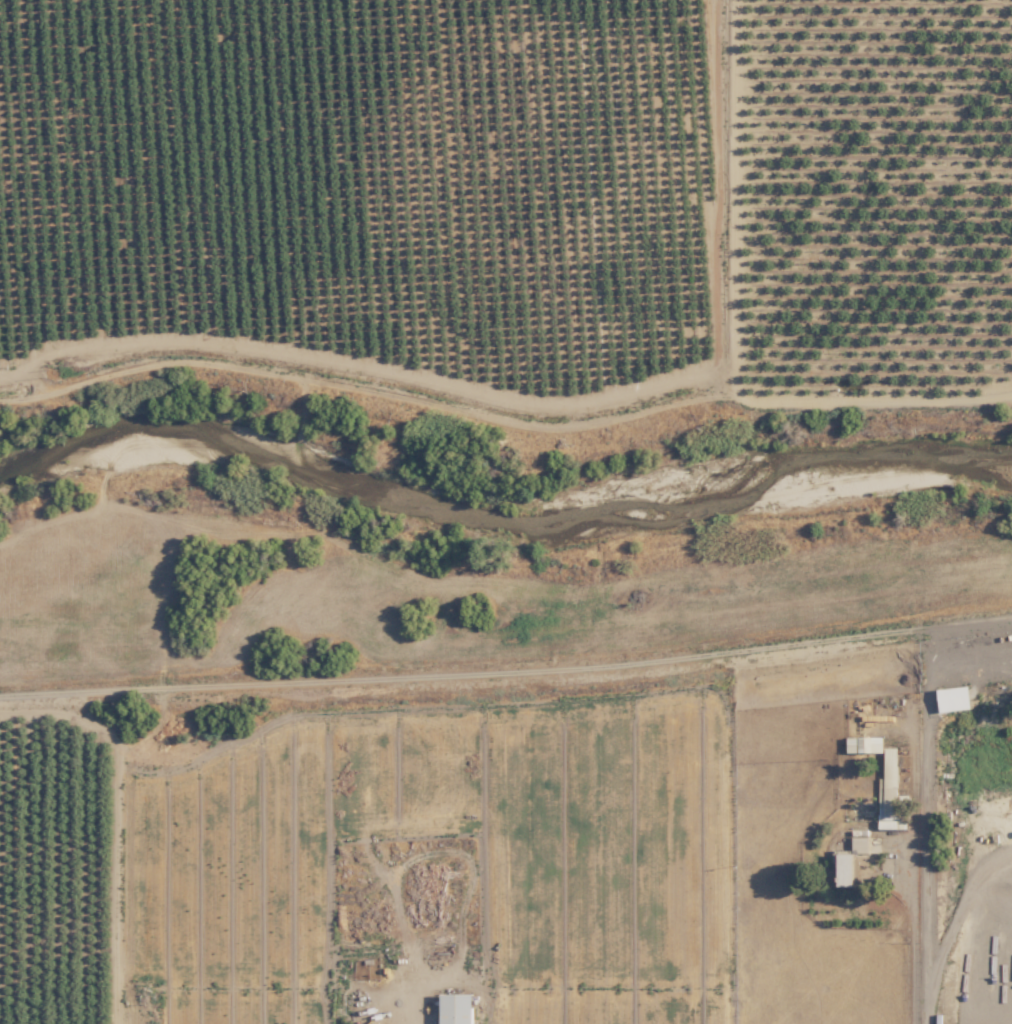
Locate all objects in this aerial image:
road: (59, 174)
road: (738, 193)
crop: (520, 194)
river: (501, 512)
road: (975, 622)
road: (667, 661)
building: (954, 697)
building: (865, 743)
building: (889, 793)
building: (860, 844)
building: (845, 868)
crop: (425, 870)
building: (456, 1008)

